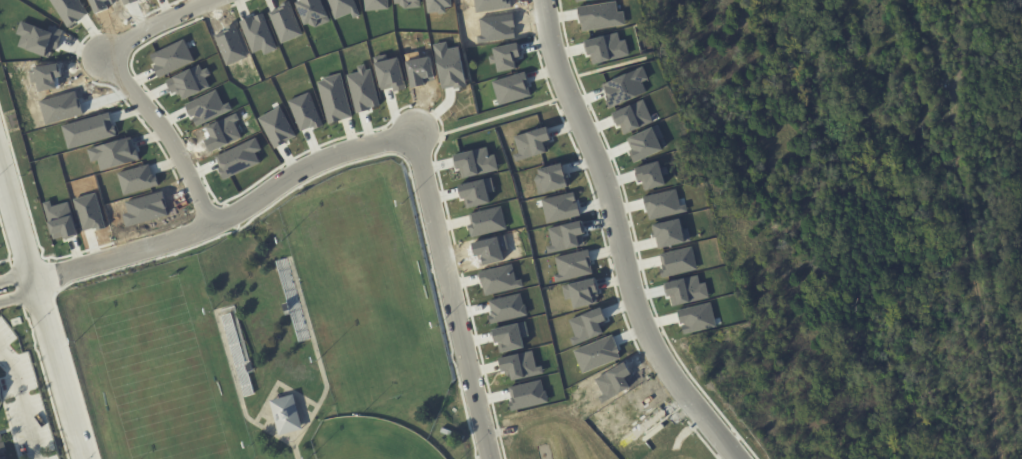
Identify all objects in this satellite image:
road: (156, 23)
road: (617, 64)
road: (498, 115)
road: (352, 132)
road: (168, 134)
road: (291, 189)
road: (203, 204)
road: (190, 210)
road: (228, 215)
road: (231, 215)
road: (604, 239)
road: (619, 239)
road: (7, 240)
road: (635, 241)
road: (26, 258)
road: (53, 274)
road: (16, 276)
road: (17, 286)
park: (371, 290)
road: (18, 293)
road: (452, 296)
road: (42, 309)
building: (289, 310)
park: (159, 364)
building: (252, 369)
road: (47, 381)
road: (24, 402)
building: (288, 415)
building: (455, 435)
park: (368, 440)

